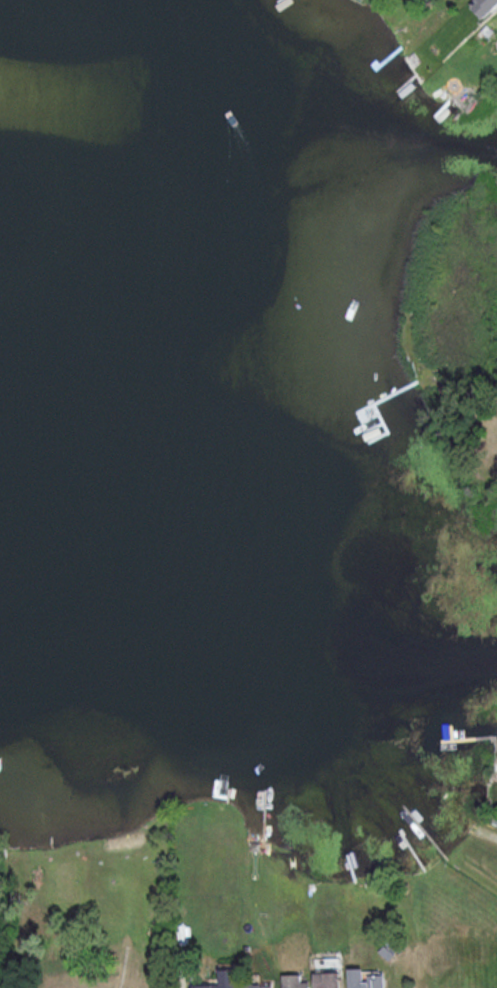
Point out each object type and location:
building: (484, 6)
road: (494, 836)
pier: (51, 839)
park: (90, 909)
building: (224, 979)
building: (327, 979)
building: (364, 979)
building: (295, 981)
building: (259, 985)

